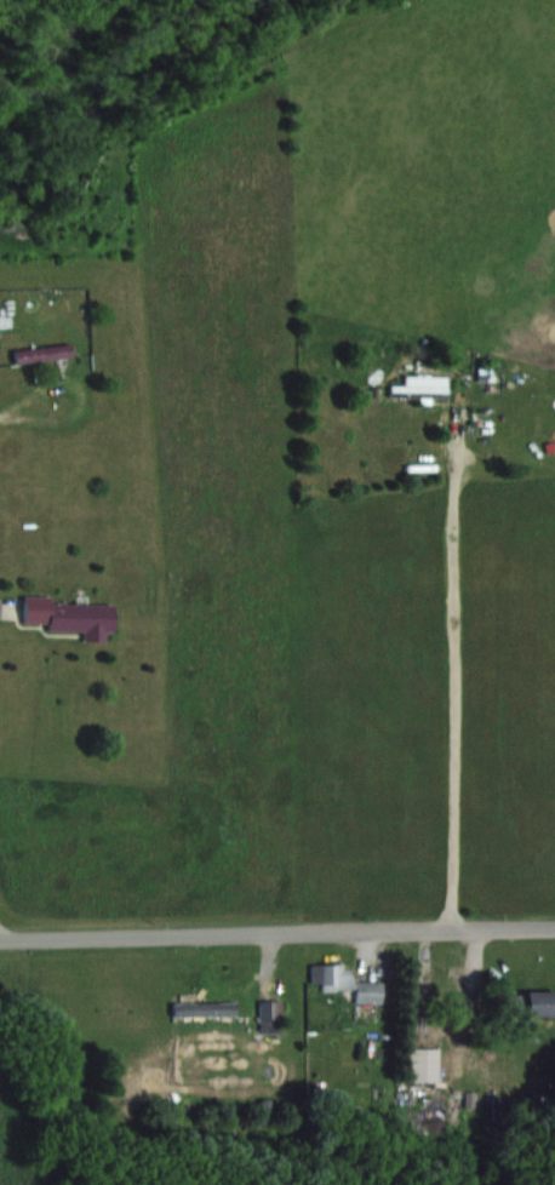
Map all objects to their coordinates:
building: (422, 384)
road: (18, 402)
building: (68, 616)
road: (456, 685)
road: (4, 933)
road: (276, 933)
building: (348, 981)
building: (530, 1001)
building: (430, 1066)

